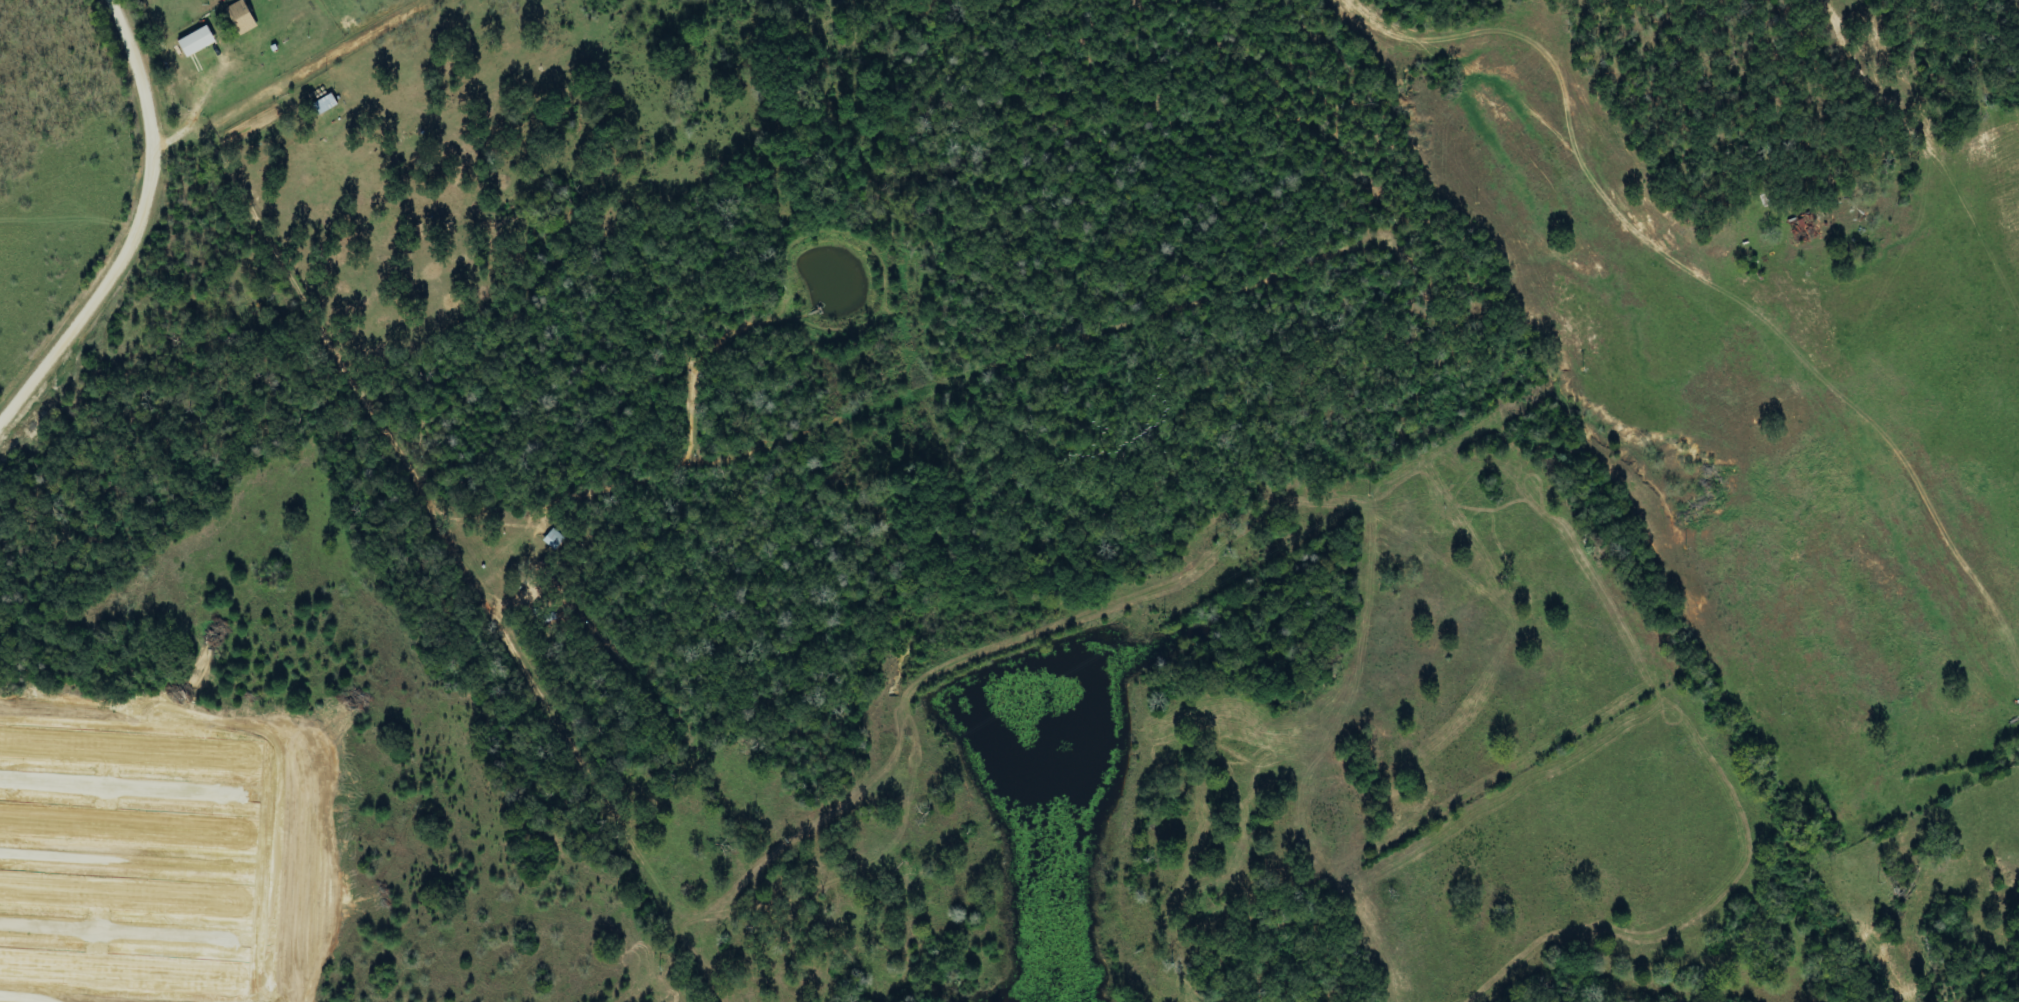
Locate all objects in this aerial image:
building: (239, 18)
building: (194, 41)
road: (291, 79)
building: (324, 104)
road: (138, 230)
road: (2018, 659)
road: (2018, 663)

